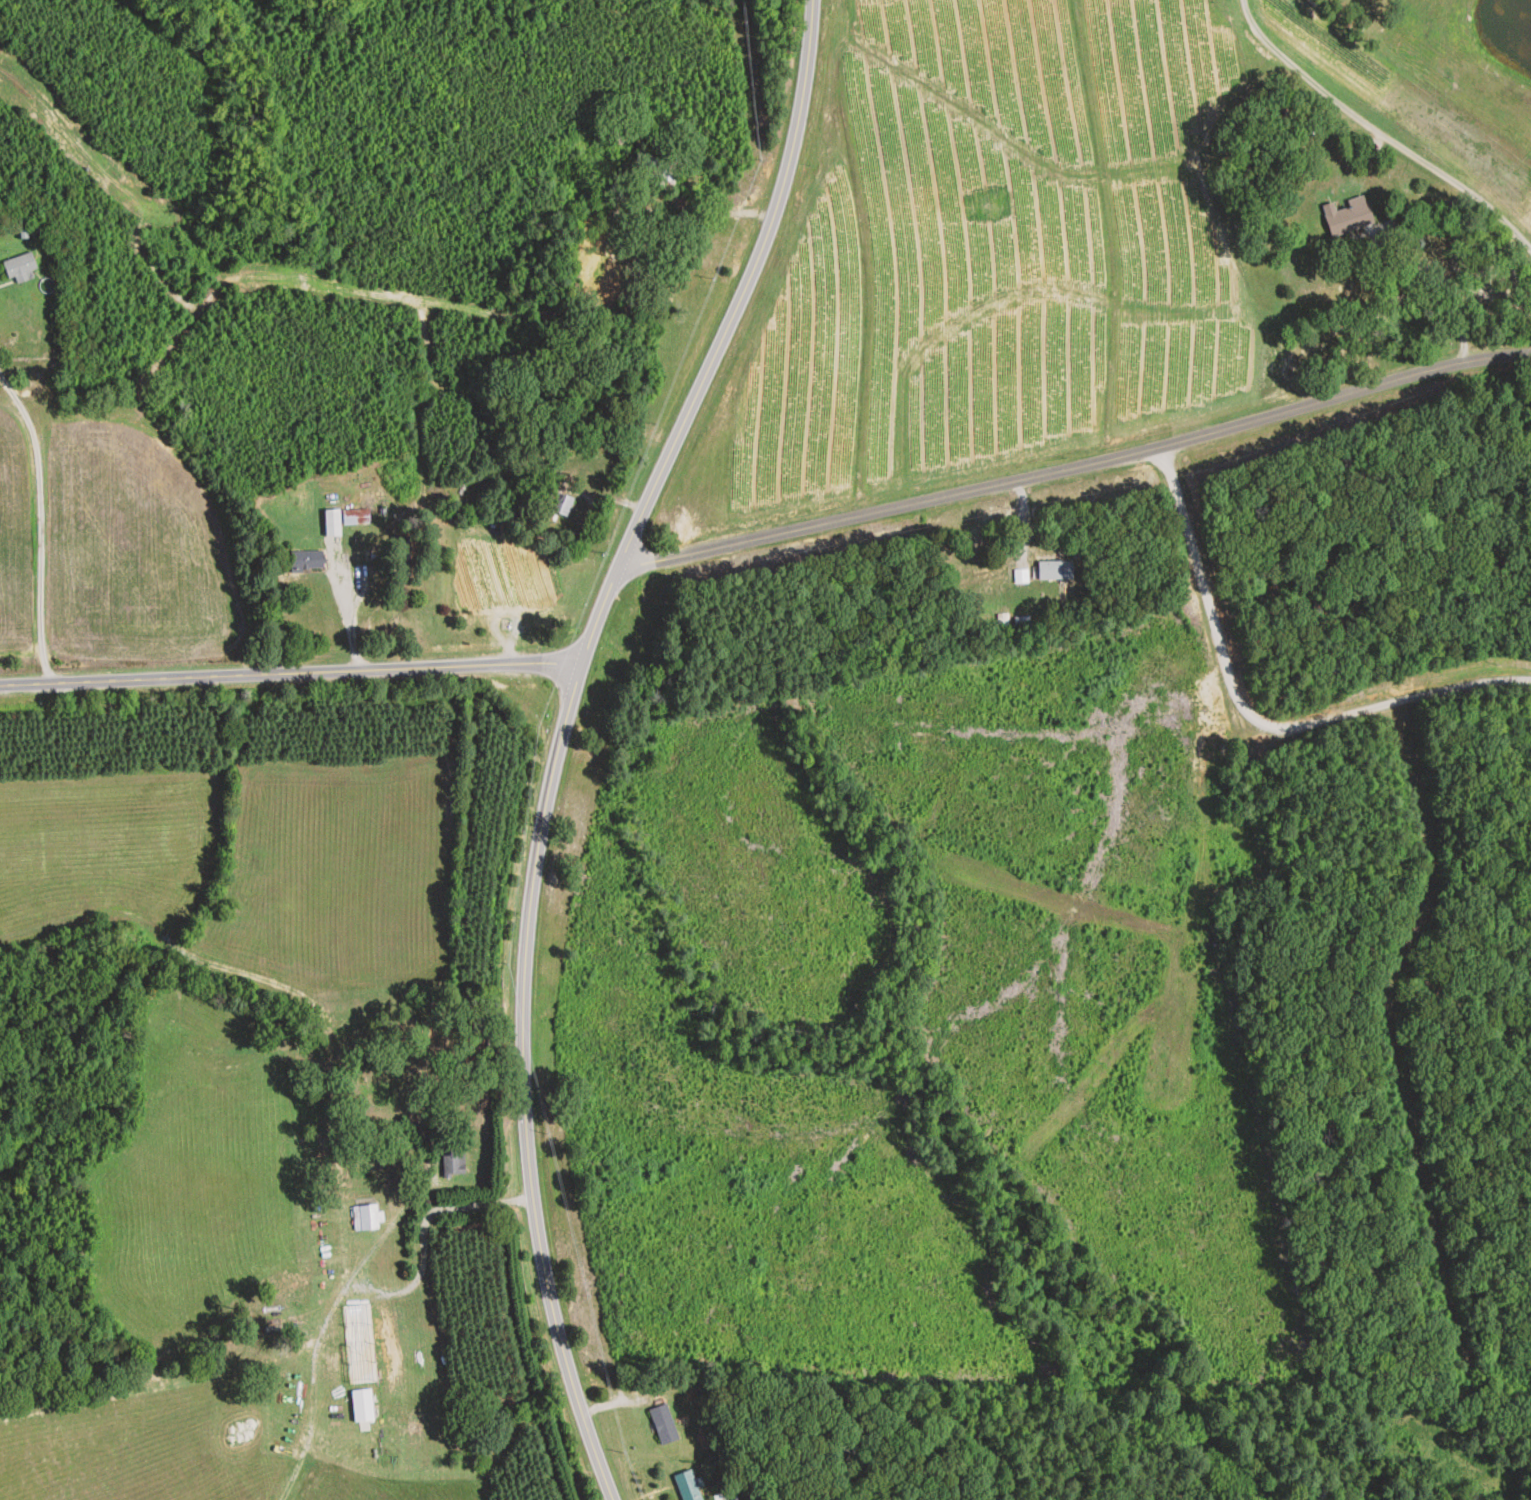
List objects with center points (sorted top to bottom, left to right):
road: (1378, 132)
building: (659, 172)
building: (1347, 217)
building: (19, 268)
building: (609, 273)
road: (1448, 287)
road: (1075, 468)
building: (561, 505)
road: (42, 522)
building: (306, 561)
building: (1055, 571)
building: (1021, 577)
road: (351, 634)
road: (290, 673)
road: (1253, 717)
road: (563, 734)
road: (7, 1147)
building: (453, 1164)
building: (367, 1219)
building: (355, 1344)
building: (663, 1425)
building: (688, 1486)

